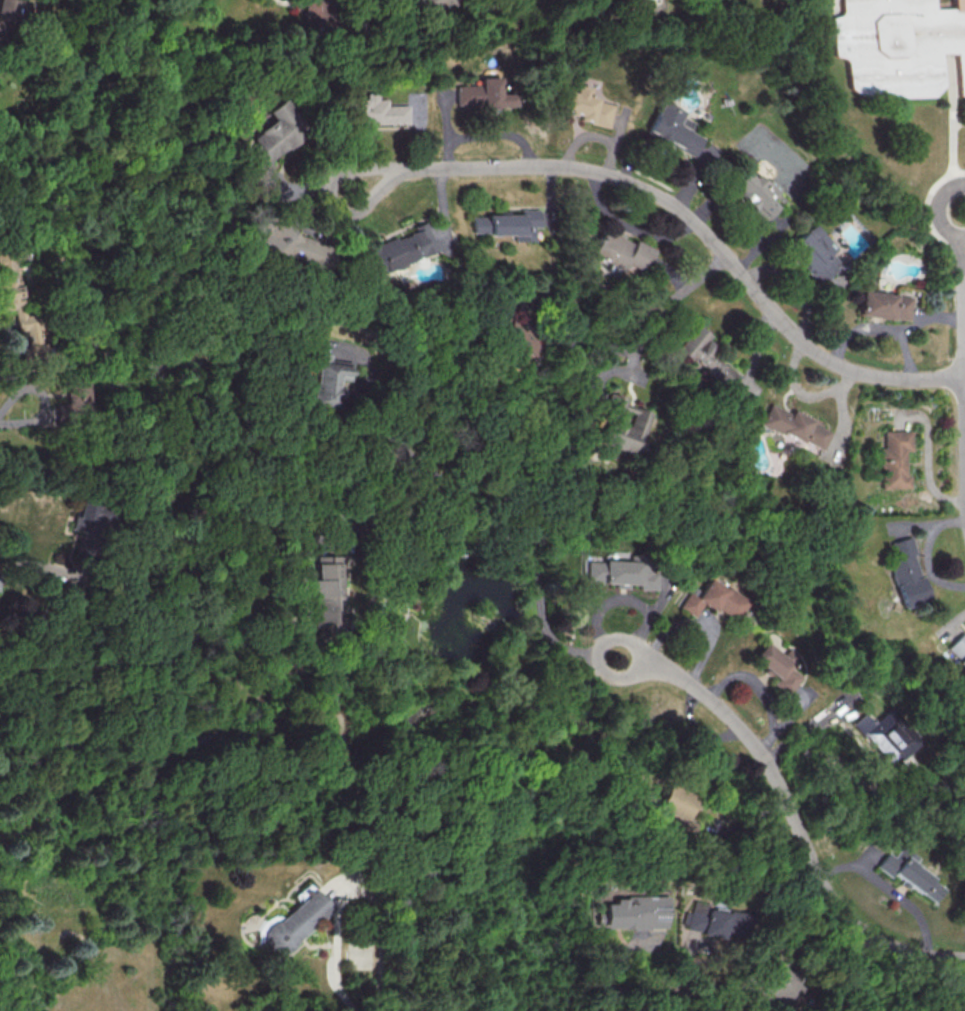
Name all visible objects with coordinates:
road: (955, 3)
building: (13, 10)
building: (899, 47)
building: (485, 92)
building: (587, 106)
building: (374, 111)
road: (939, 114)
road: (952, 122)
building: (674, 129)
building: (265, 140)
building: (748, 192)
road: (917, 209)
road: (680, 217)
building: (476, 224)
building: (512, 224)
building: (276, 242)
building: (396, 248)
building: (612, 252)
building: (805, 253)
road: (964, 265)
building: (7, 280)
road: (665, 299)
building: (875, 305)
building: (502, 328)
road: (523, 330)
building: (698, 358)
road: (957, 366)
building: (325, 380)
building: (75, 396)
road: (42, 400)
building: (614, 425)
building: (786, 426)
building: (887, 459)
road: (481, 513)
road: (397, 514)
building: (80, 520)
road: (35, 568)
building: (902, 572)
building: (622, 573)
river: (185, 584)
building: (326, 594)
building: (716, 601)
building: (956, 652)
building: (778, 667)
building: (888, 737)
river: (764, 772)
river: (880, 790)
building: (673, 802)
road: (791, 812)
building: (910, 875)
road: (355, 891)
building: (633, 912)
building: (295, 920)
building: (704, 920)
road: (616, 970)
building: (782, 984)

